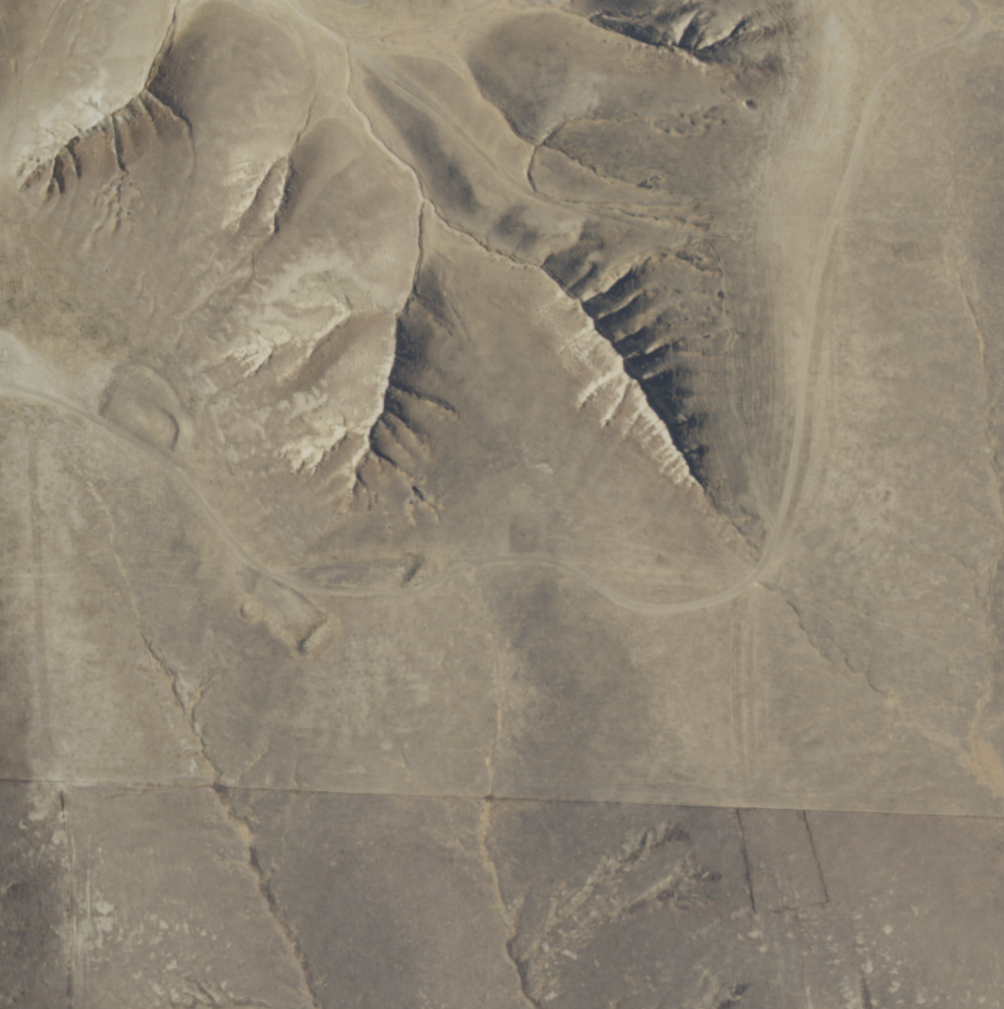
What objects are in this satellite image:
railway: (910, 40)
railway: (891, 48)

